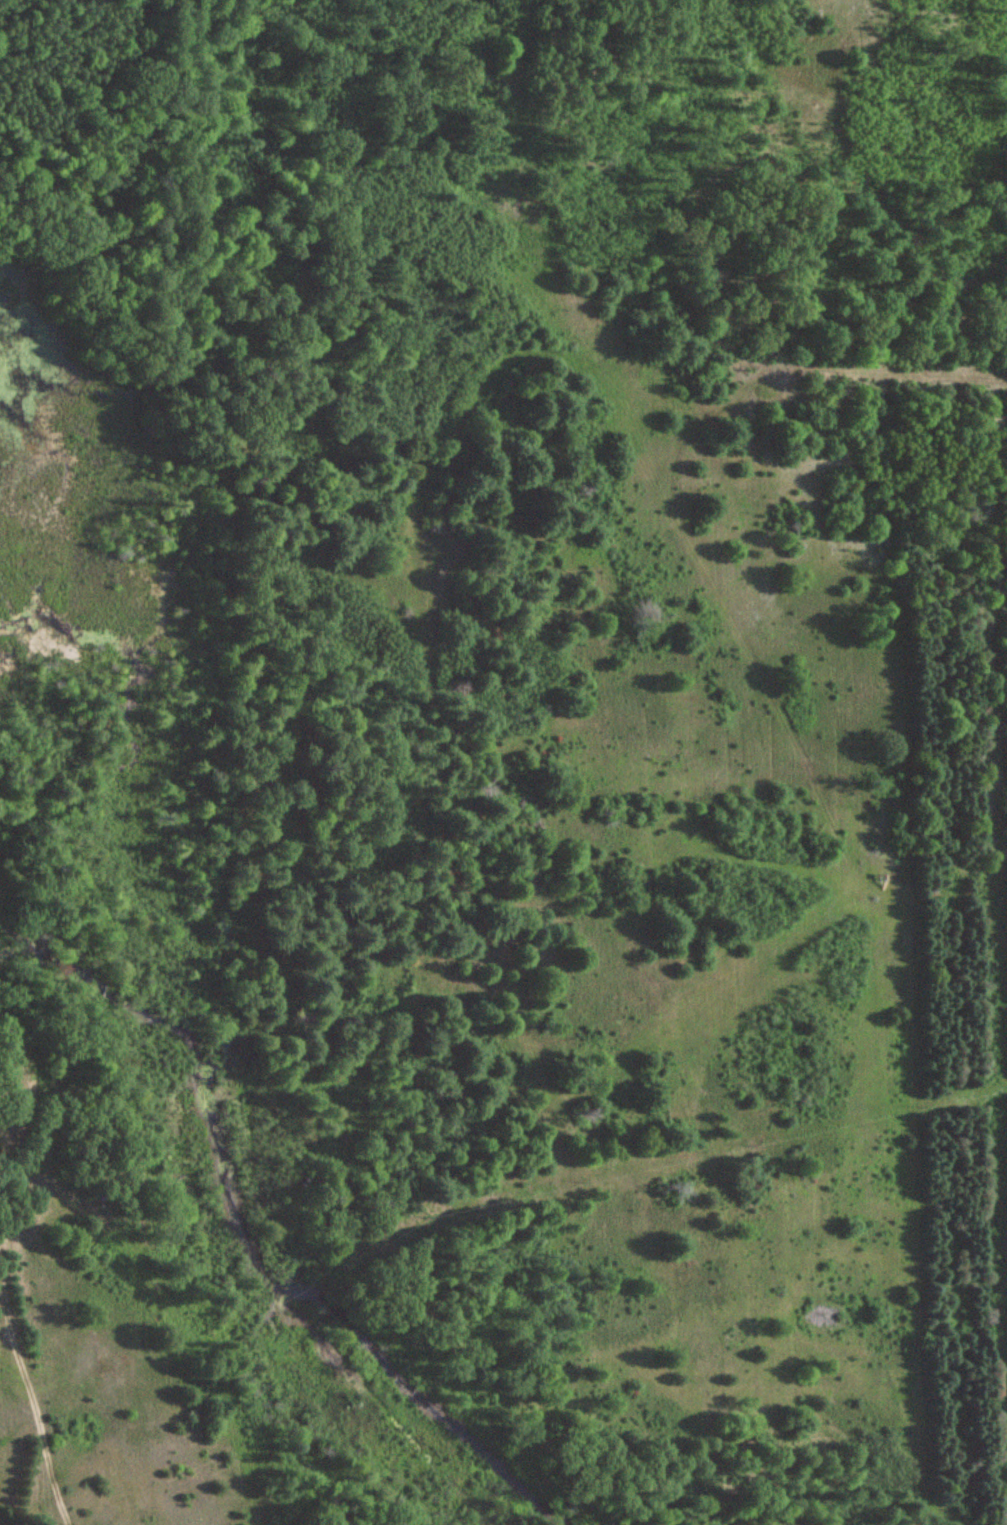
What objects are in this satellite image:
river: (247, 1241)

